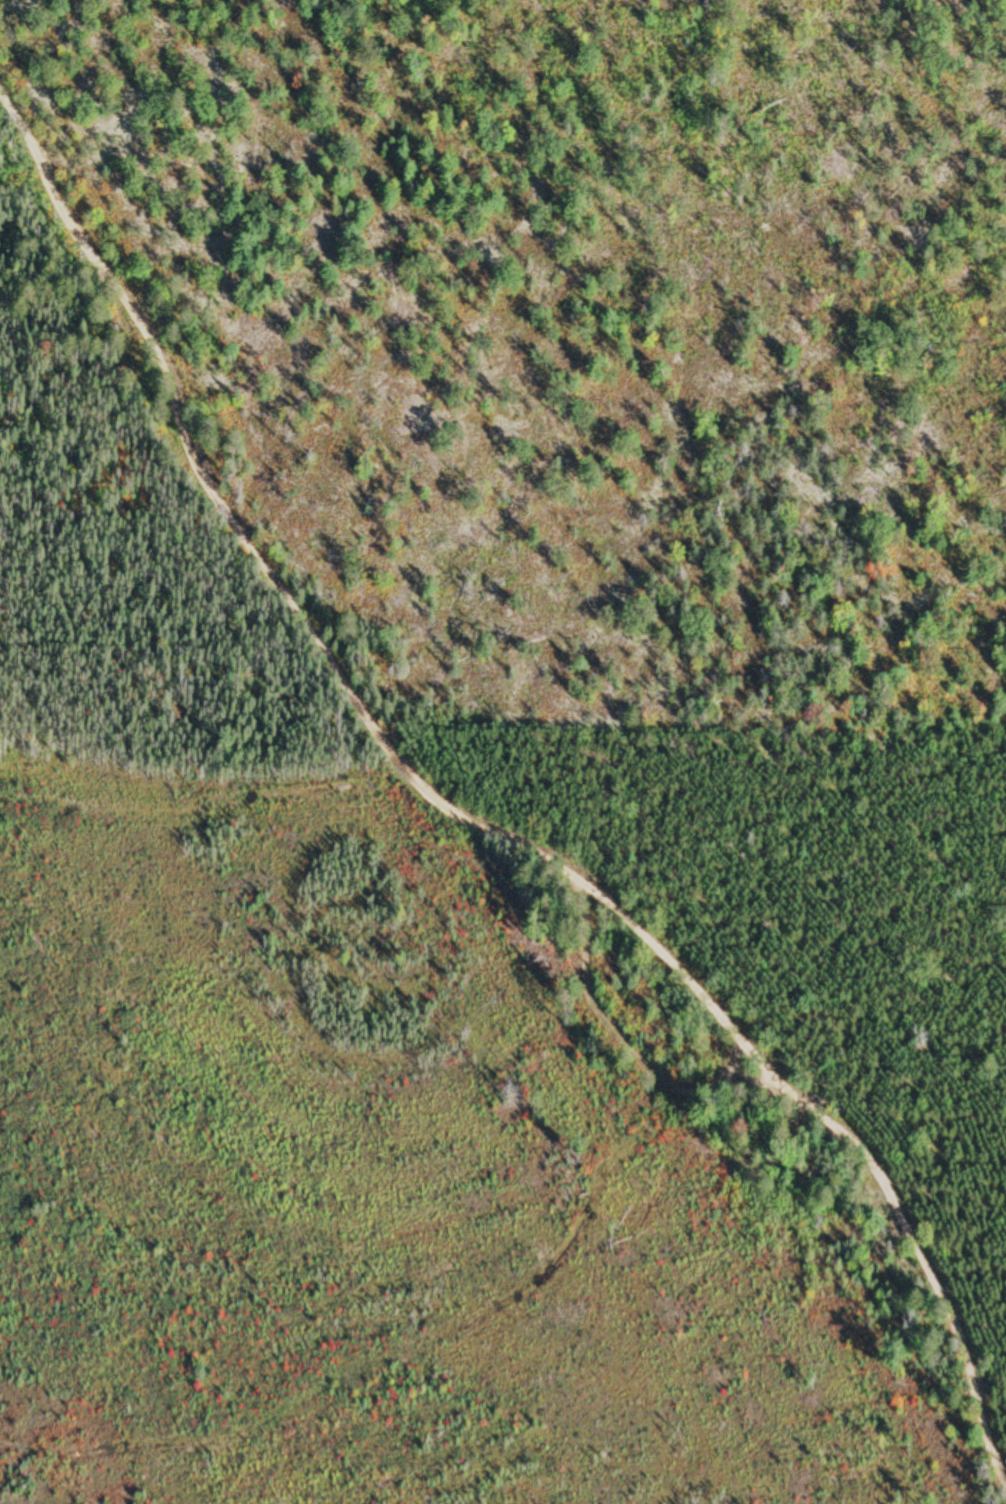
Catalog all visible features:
road: (396, 689)
road: (901, 1192)

